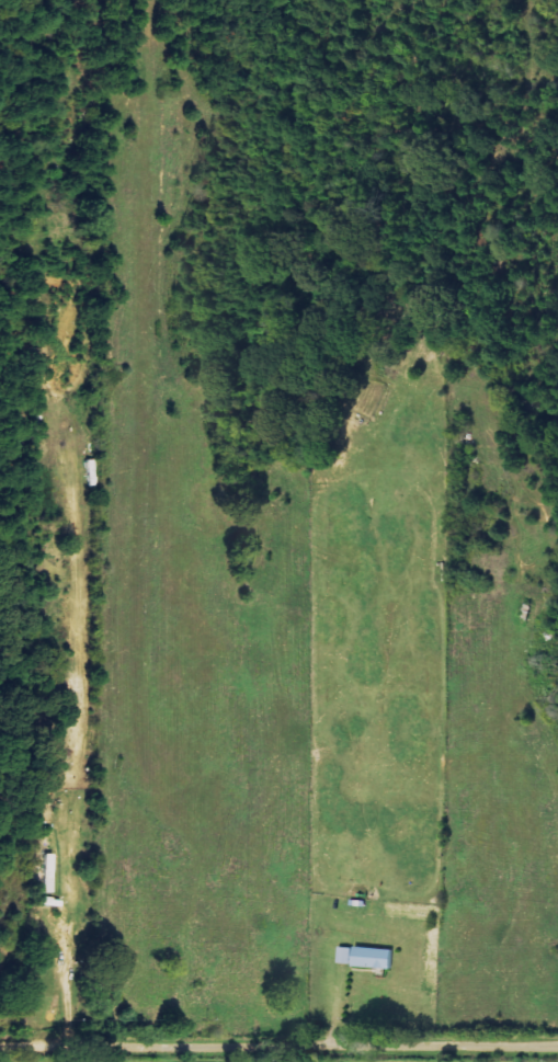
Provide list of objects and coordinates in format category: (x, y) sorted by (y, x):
building: (345, 957)
building: (374, 960)
road: (278, 1047)

